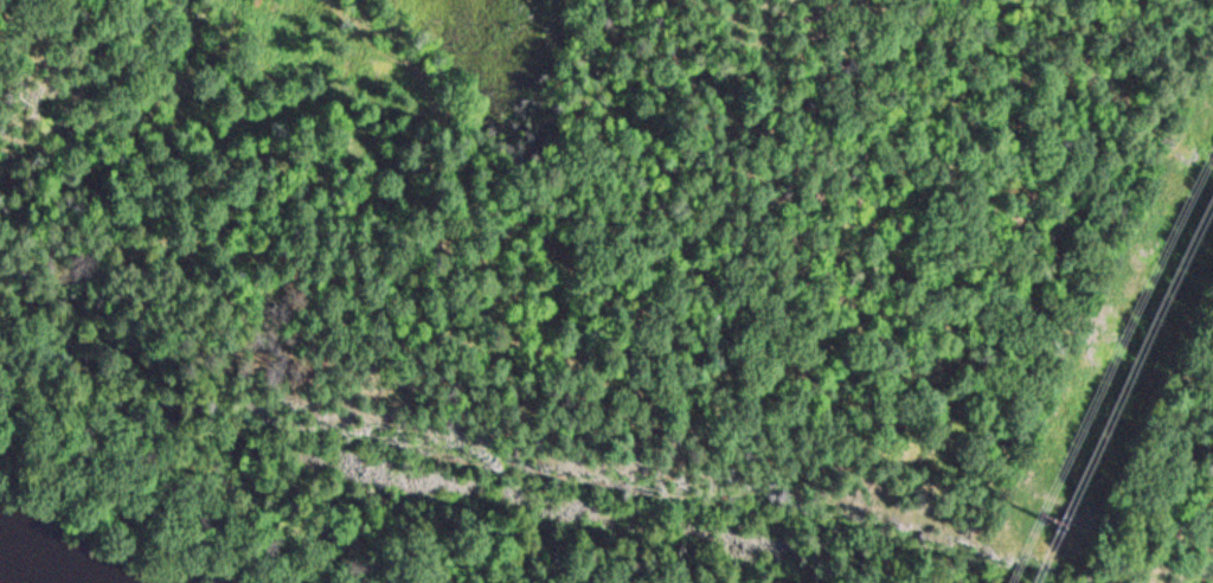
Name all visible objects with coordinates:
power tower: (1086, 530)

